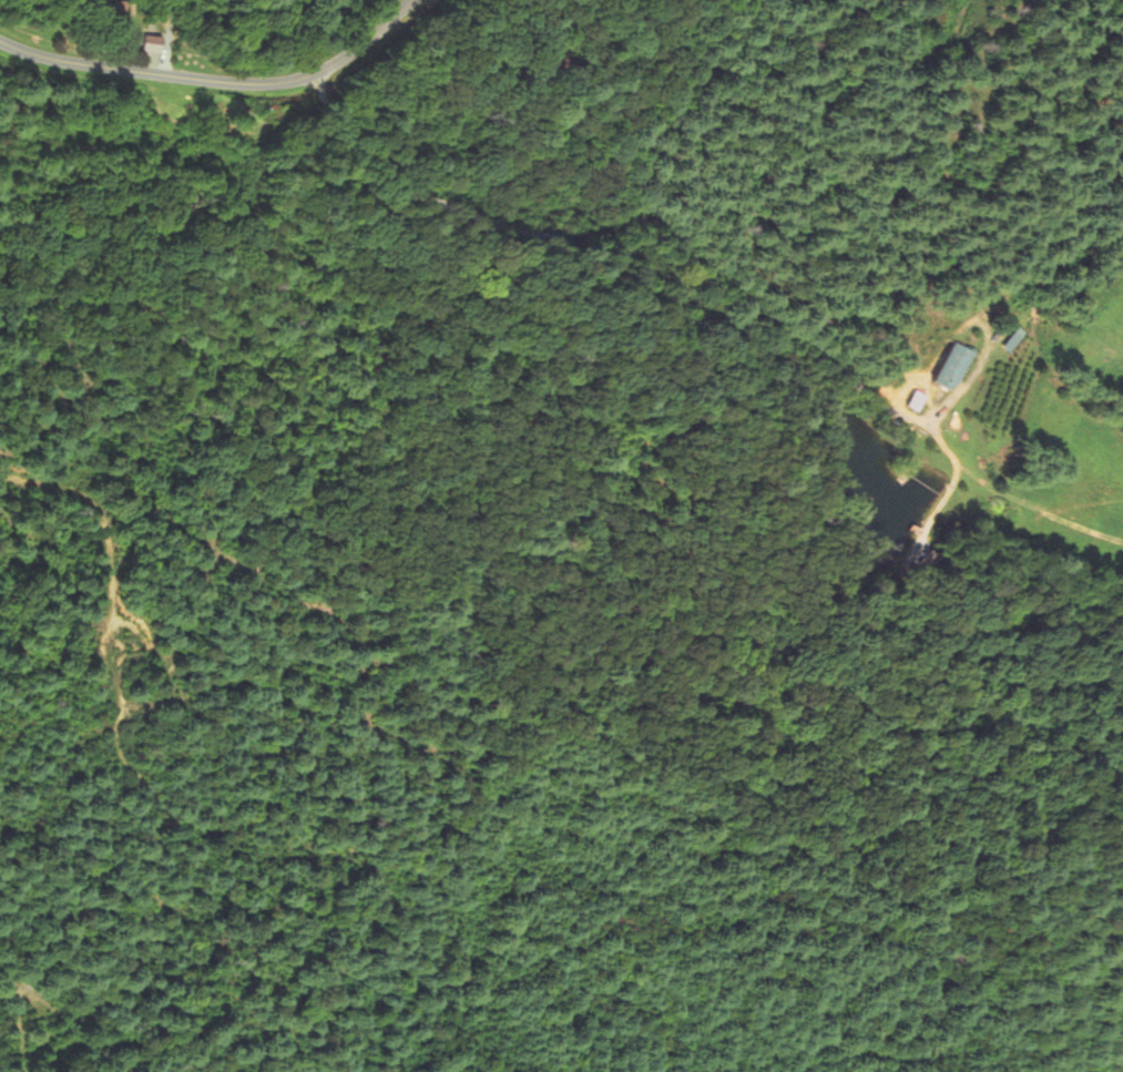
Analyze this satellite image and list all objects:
building: (155, 44)
road: (216, 80)
road: (635, 225)
building: (952, 366)
building: (920, 401)

